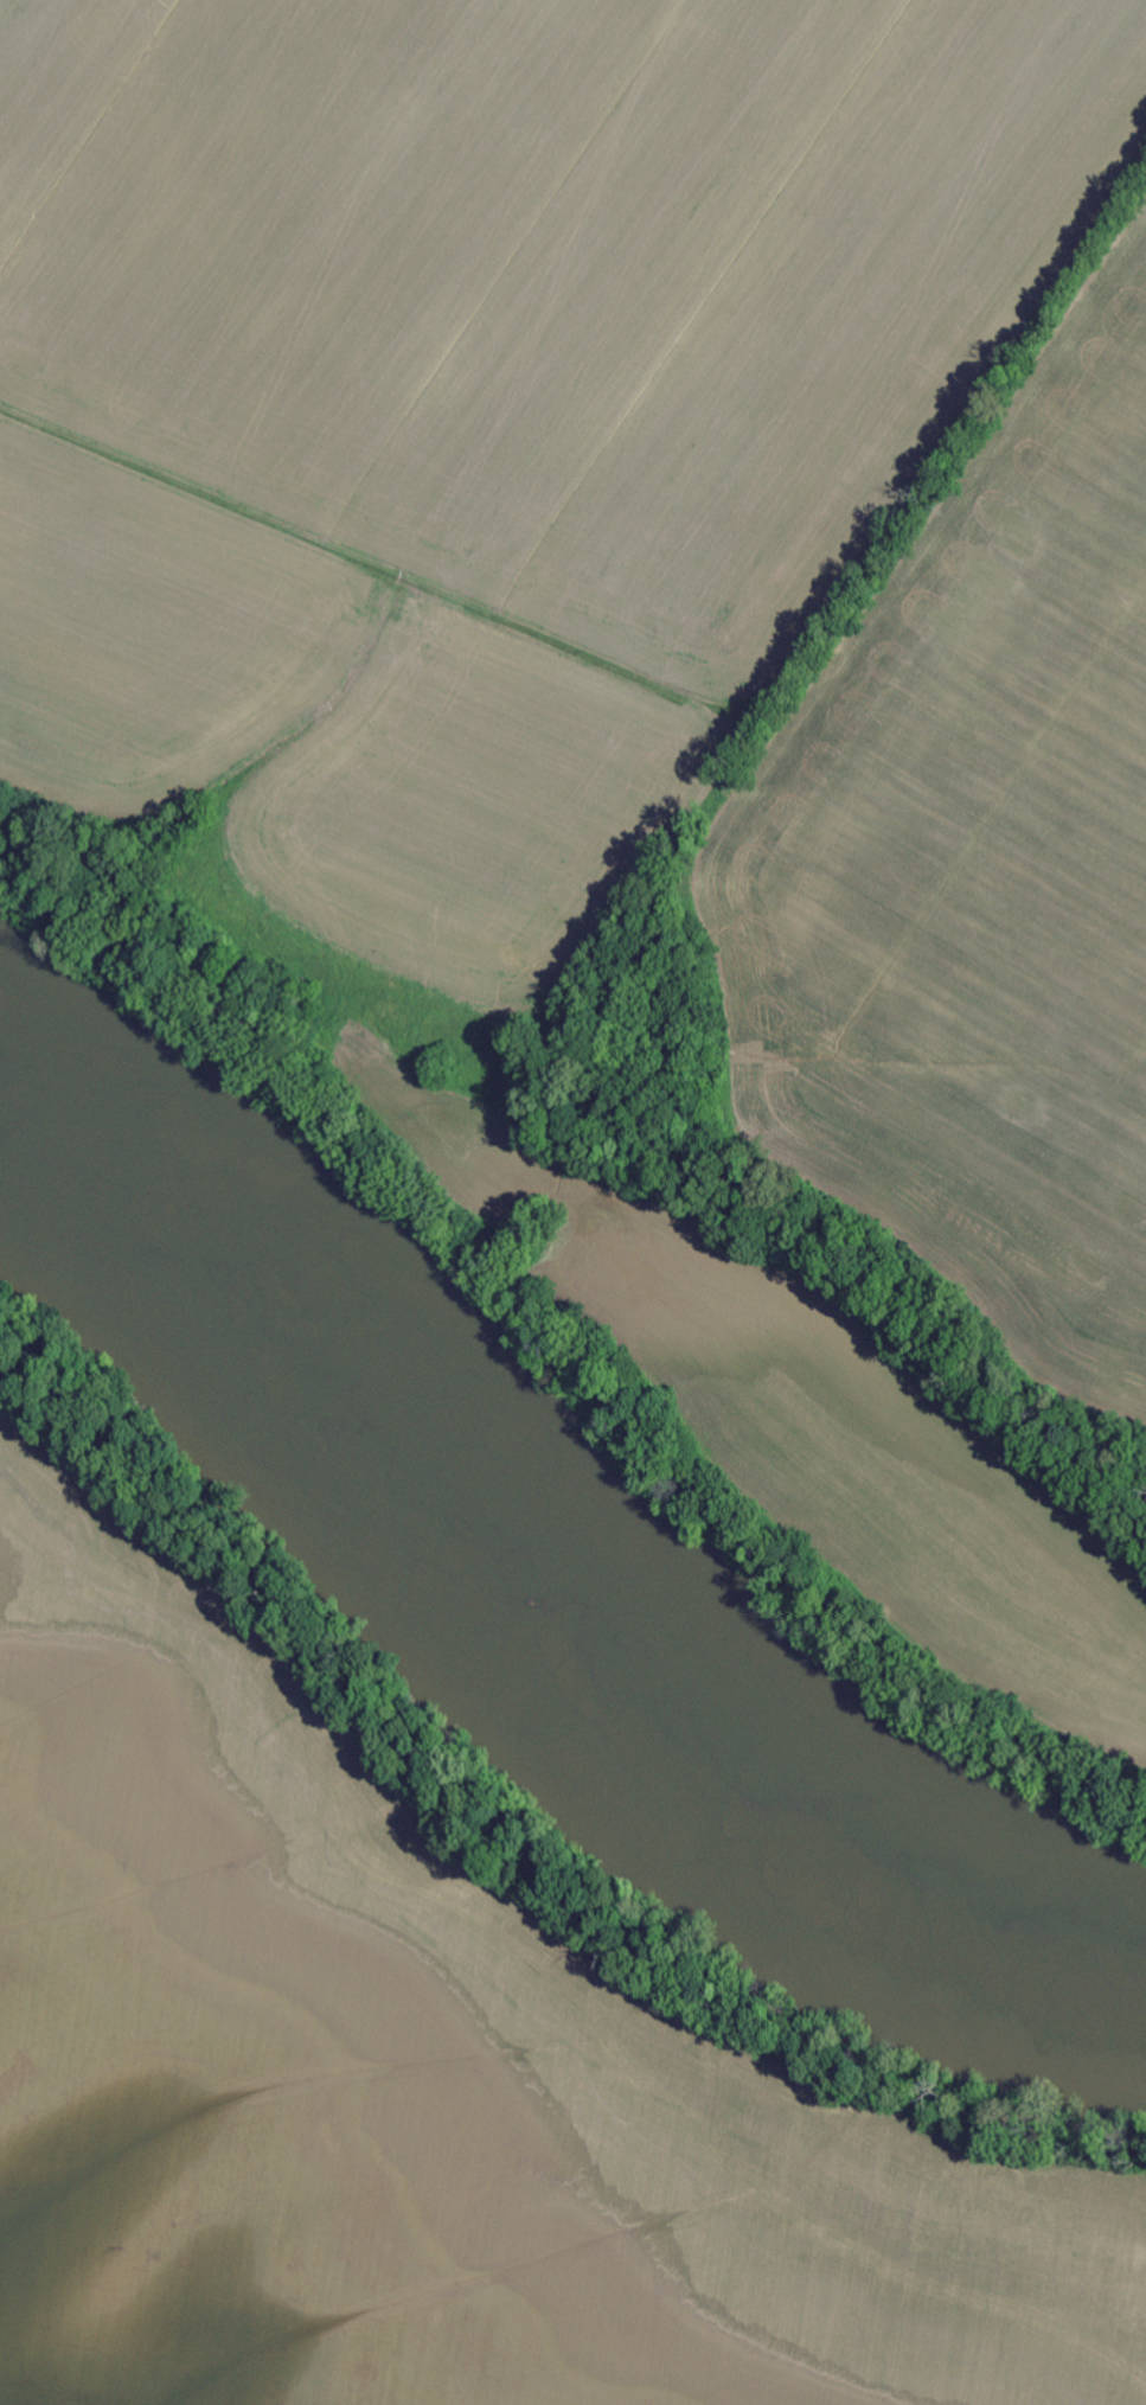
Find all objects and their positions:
river: (516, 1611)

